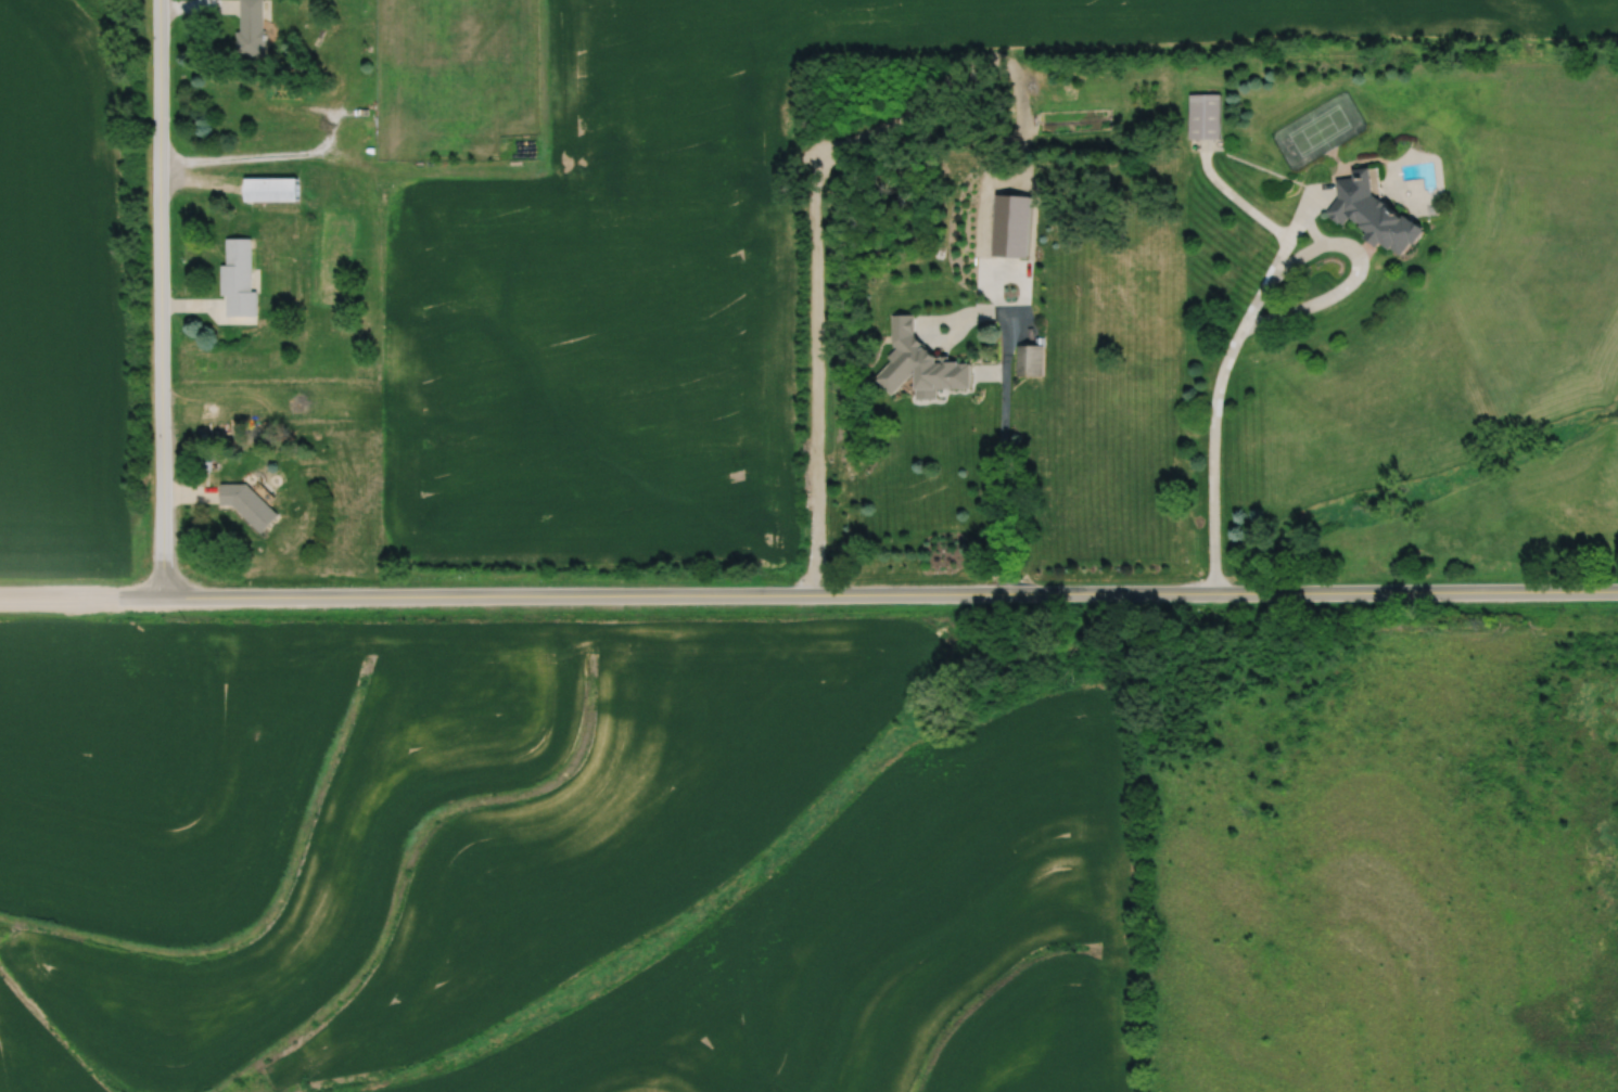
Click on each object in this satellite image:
building: (250, 27)
building: (1205, 116)
building: (271, 189)
building: (1375, 211)
building: (238, 279)
building: (983, 286)
road: (160, 298)
building: (1031, 359)
road: (1220, 377)
road: (1002, 450)
building: (246, 505)
road: (866, 594)
road: (58, 596)

